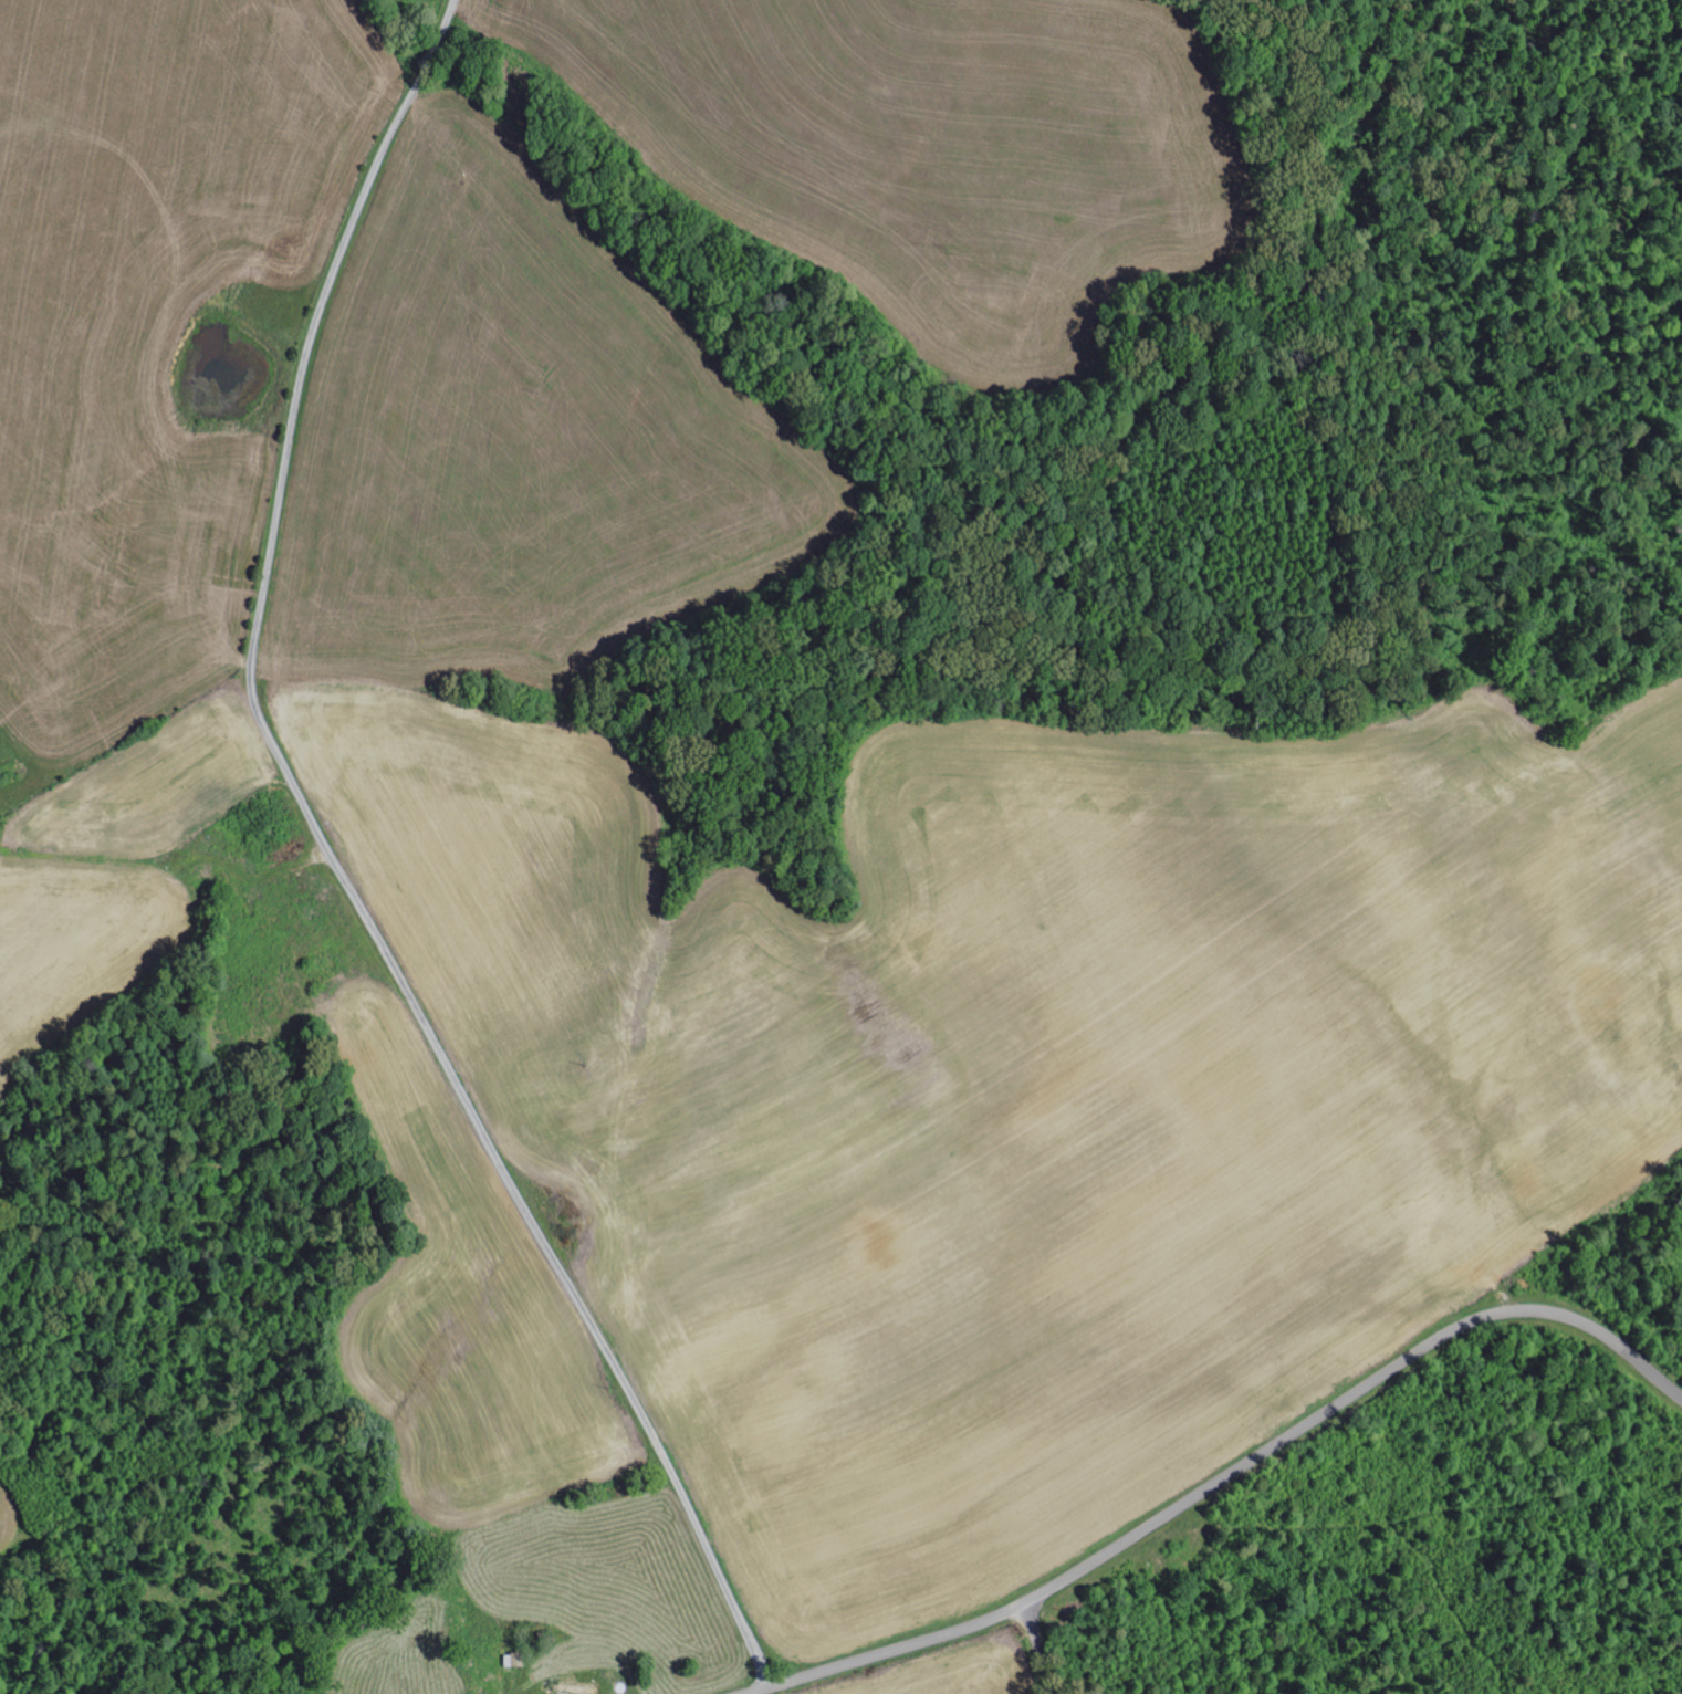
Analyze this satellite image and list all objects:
road: (336, 868)
road: (1221, 1476)
road: (1038, 1645)

